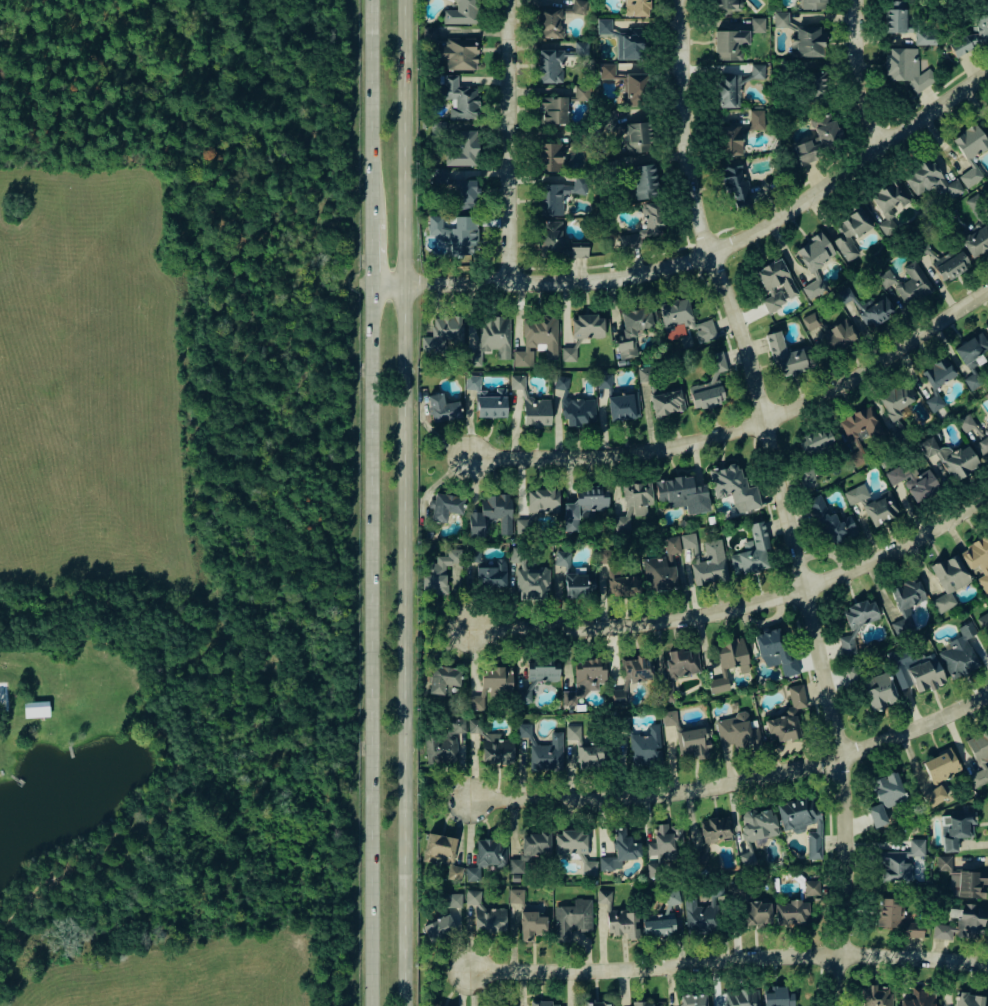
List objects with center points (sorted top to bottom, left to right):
building: (727, 4)
building: (813, 4)
building: (578, 6)
building: (636, 7)
building: (462, 13)
building: (895, 16)
building: (781, 20)
building: (550, 22)
building: (757, 25)
building: (429, 34)
building: (971, 37)
building: (925, 38)
building: (623, 40)
building: (807, 42)
building: (729, 44)
building: (460, 53)
building: (557, 61)
building: (905, 67)
road: (852, 78)
building: (626, 83)
building: (814, 84)
building: (735, 85)
building: (581, 93)
building: (459, 98)
building: (553, 110)
road: (367, 112)
building: (756, 119)
building: (638, 137)
building: (818, 138)
road: (515, 140)
building: (729, 140)
building: (970, 141)
building: (463, 149)
building: (549, 156)
building: (439, 175)
building: (970, 176)
building: (930, 179)
building: (644, 181)
building: (734, 181)
building: (464, 194)
building: (557, 195)
building: (974, 201)
building: (889, 203)
building: (650, 219)
road: (724, 227)
building: (456, 233)
building: (851, 233)
building: (550, 235)
building: (627, 241)
building: (976, 241)
road: (716, 248)
building: (577, 252)
road: (367, 255)
building: (813, 262)
building: (945, 262)
building: (909, 283)
building: (776, 284)
road: (383, 285)
building: (875, 310)
building: (683, 319)
building: (635, 321)
building: (587, 326)
building: (833, 331)
building: (442, 333)
building: (490, 338)
building: (537, 340)
building: (625, 349)
building: (568, 354)
building: (645, 374)
building: (937, 380)
building: (472, 382)
building: (604, 382)
building: (709, 383)
building: (561, 384)
building: (895, 402)
building: (530, 403)
building: (667, 403)
building: (491, 404)
building: (621, 407)
building: (442, 408)
building: (578, 411)
building: (965, 422)
road: (739, 429)
building: (857, 431)
building: (984, 442)
building: (950, 457)
building: (913, 481)
building: (733, 486)
building: (682, 494)
building: (856, 494)
road: (787, 498)
road: (399, 502)
building: (632, 504)
building: (584, 505)
building: (445, 506)
building: (537, 507)
building: (879, 508)
building: (490, 514)
building: (830, 522)
building: (752, 552)
building: (977, 558)
building: (562, 559)
building: (440, 570)
building: (706, 571)
building: (491, 575)
building: (948, 580)
building: (532, 581)
building: (575, 585)
building: (625, 585)
building: (905, 604)
road: (734, 607)
building: (984, 620)
building: (855, 624)
road: (367, 646)
building: (773, 650)
building: (959, 652)
building: (726, 662)
building: (682, 663)
building: (542, 671)
building: (632, 674)
building: (925, 674)
building: (442, 679)
building: (584, 679)
building: (487, 684)
building: (873, 687)
building: (523, 695)
building: (796, 695)
building: (36, 709)
building: (668, 718)
building: (473, 725)
building: (456, 726)
building: (782, 727)
building: (737, 730)
building: (572, 732)
building: (692, 741)
building: (646, 745)
building: (496, 748)
building: (440, 749)
building: (583, 756)
building: (978, 758)
building: (940, 765)
road: (731, 784)
building: (933, 795)
building: (884, 797)
building: (801, 822)
building: (758, 824)
building: (956, 828)
building: (716, 829)
building: (663, 846)
building: (438, 848)
building: (574, 848)
building: (530, 849)
building: (620, 850)
building: (700, 856)
building: (485, 858)
building: (747, 858)
building: (899, 862)
building: (454, 872)
building: (960, 879)
building: (811, 887)
building: (515, 895)
building: (453, 899)
building: (702, 911)
building: (756, 913)
building: (790, 913)
building: (888, 913)
building: (485, 914)
building: (571, 918)
building: (614, 918)
building: (661, 918)
building: (969, 920)
building: (531, 924)
building: (442, 927)
building: (912, 930)
building: (942, 931)
road: (723, 960)
building: (777, 996)
building: (875, 996)
building: (741, 997)
building: (919, 998)
building: (967, 999)
building: (692, 1000)
building: (542, 1003)
building: (597, 1003)
building: (646, 1004)

